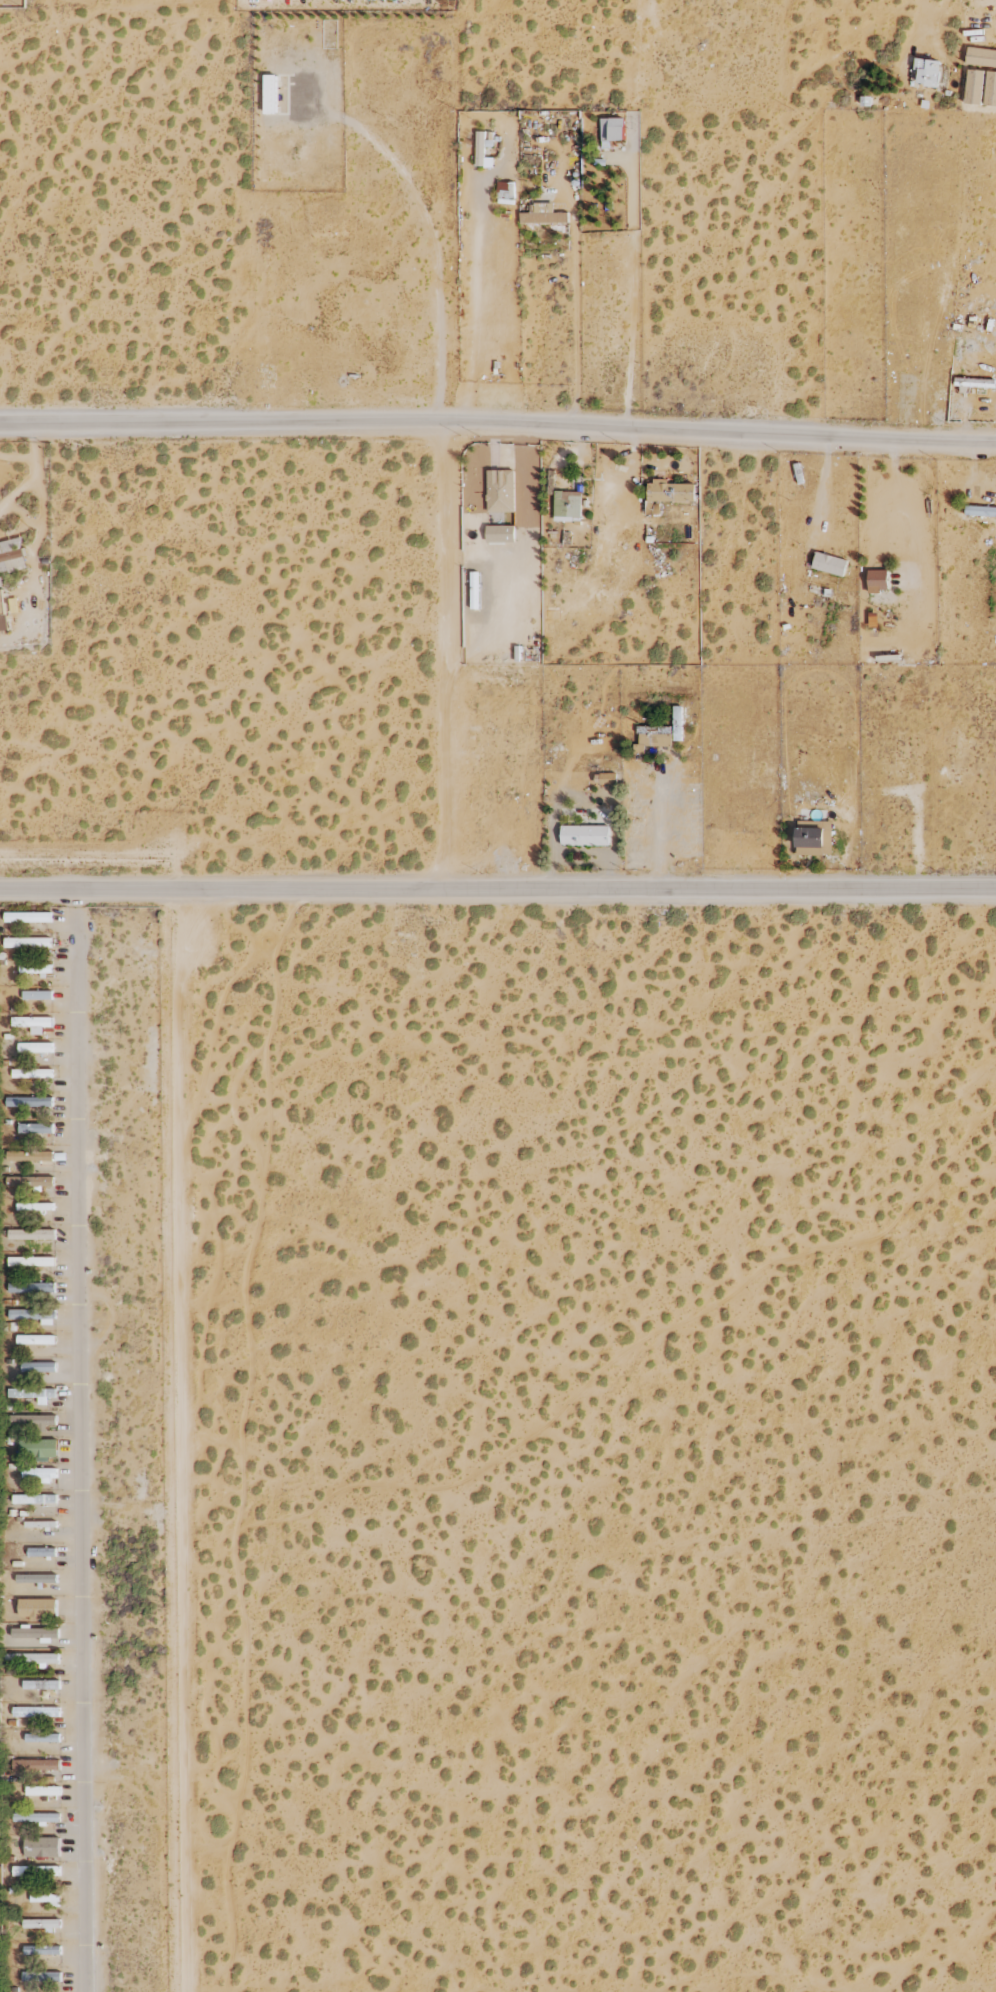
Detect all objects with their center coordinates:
building: (981, 57)
building: (928, 72)
building: (974, 86)
building: (990, 89)
building: (270, 94)
building: (611, 131)
building: (483, 148)
building: (505, 191)
building: (543, 214)
road: (498, 423)
road: (825, 480)
building: (500, 491)
building: (667, 494)
building: (567, 506)
road: (904, 511)
building: (980, 511)
building: (500, 534)
building: (12, 556)
building: (829, 564)
building: (877, 581)
building: (2, 612)
road: (443, 654)
building: (605, 779)
building: (585, 835)
building: (814, 840)
road: (497, 887)
building: (28, 917)
building: (28, 942)
building: (35, 968)
building: (37, 995)
building: (33, 1023)
building: (34, 1047)
building: (32, 1073)
building: (29, 1102)
building: (36, 1128)
building: (29, 1156)
building: (31, 1181)
building: (35, 1206)
building: (32, 1235)
building: (31, 1261)
building: (32, 1287)
building: (32, 1314)
building: (36, 1340)
building: (39, 1367)
building: (33, 1394)
road: (81, 1440)
building: (38, 1448)
building: (39, 1473)
building: (34, 1499)
building: (40, 1524)
building: (42, 1552)
building: (37, 1578)
building: (38, 1608)
building: (36, 1633)
building: (35, 1659)
building: (40, 1685)
building: (37, 1712)
building: (36, 1765)
building: (43, 1791)
building: (36, 1818)
building: (42, 1847)
building: (36, 1871)
building: (45, 1898)
building: (41, 1924)
building: (42, 1950)
building: (42, 1977)

